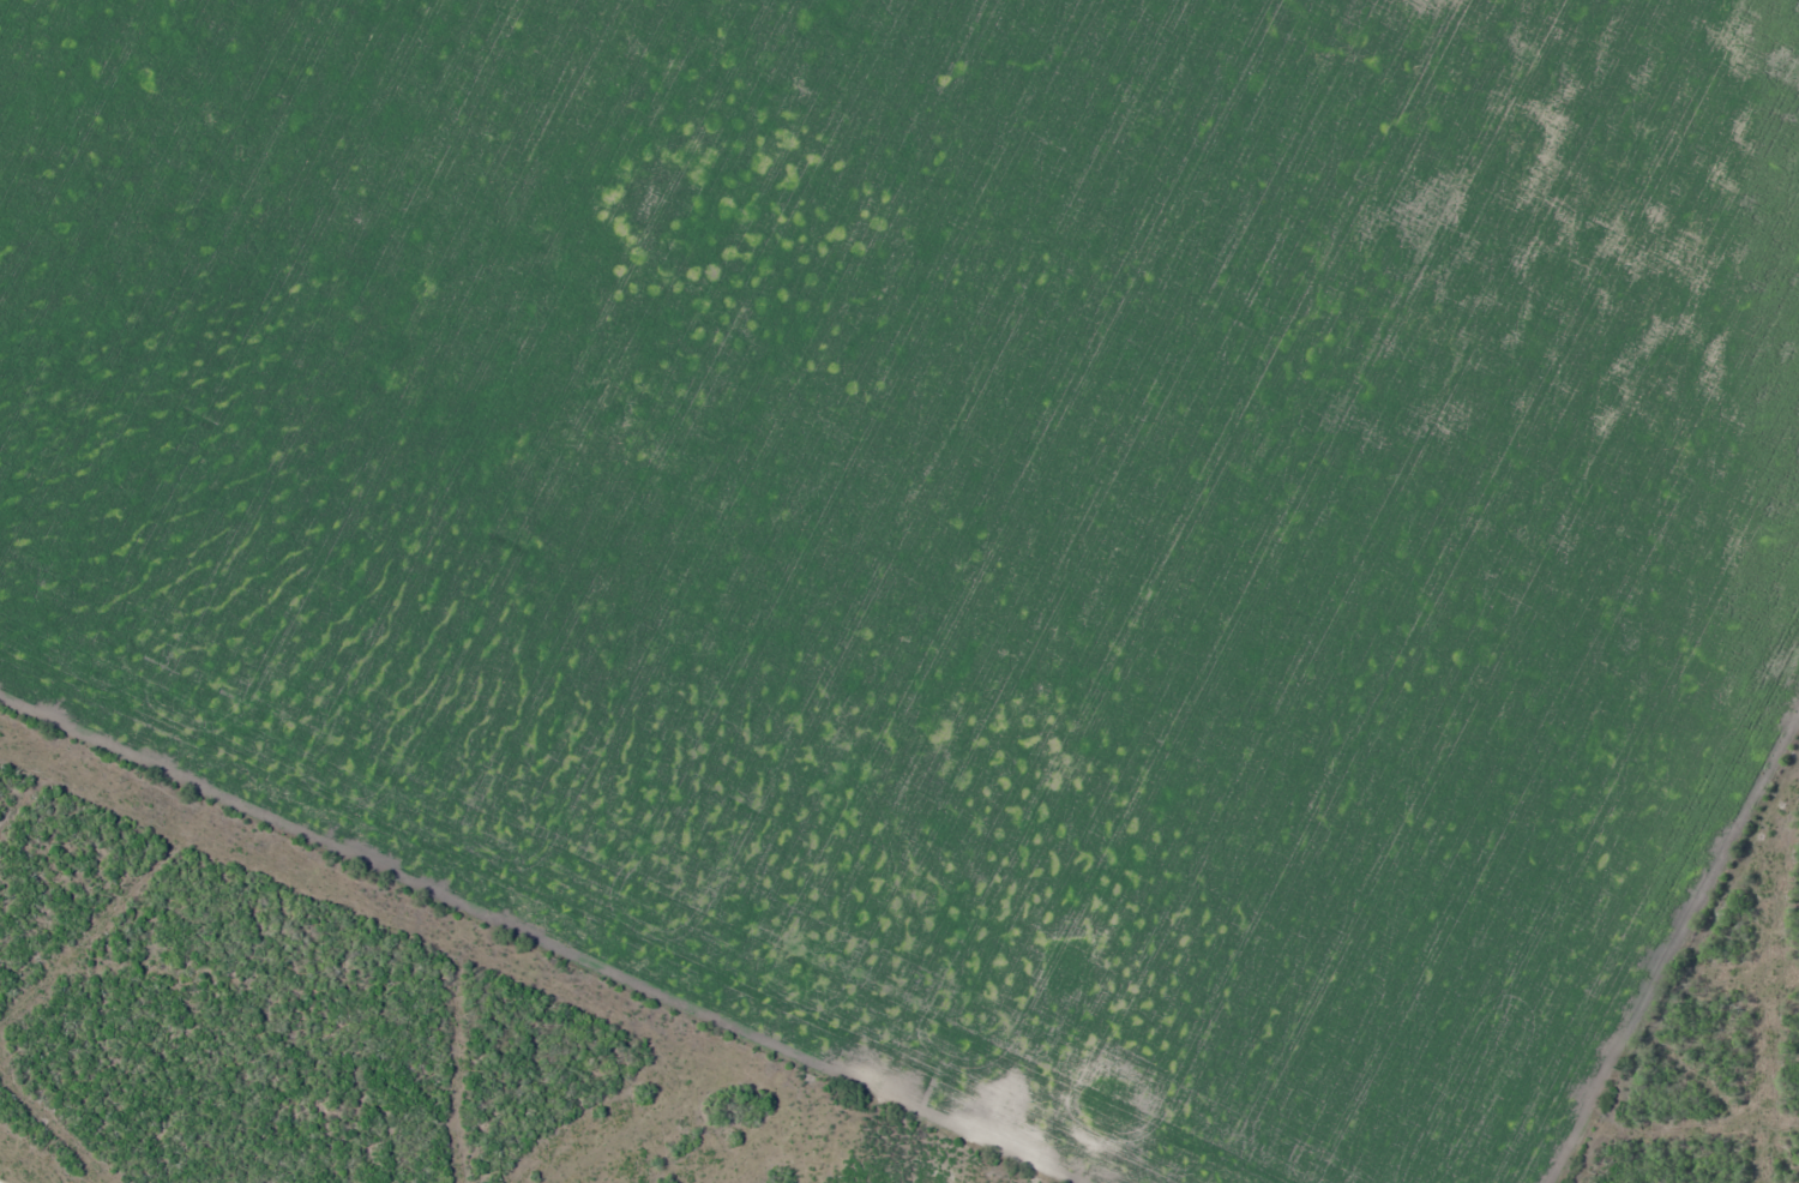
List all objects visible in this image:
road: (774, 1070)

